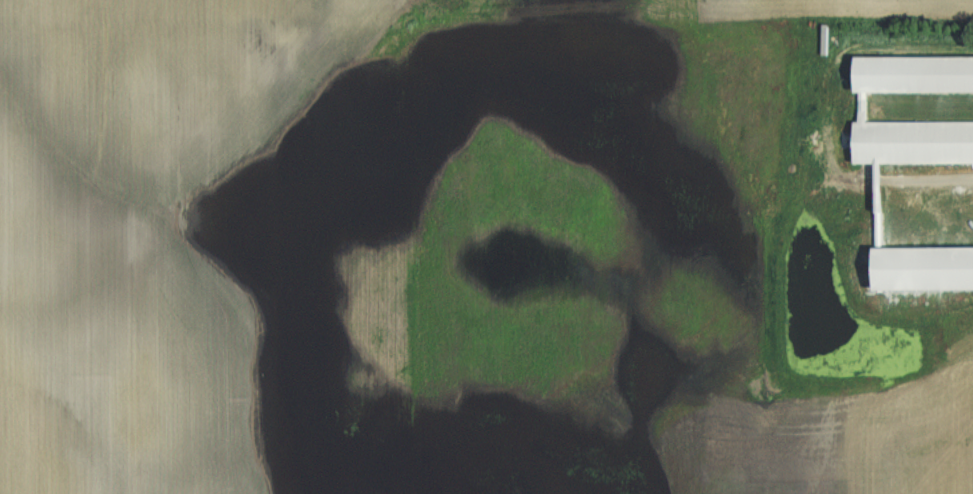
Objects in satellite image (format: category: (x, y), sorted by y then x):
building: (922, 71)
road: (943, 184)

